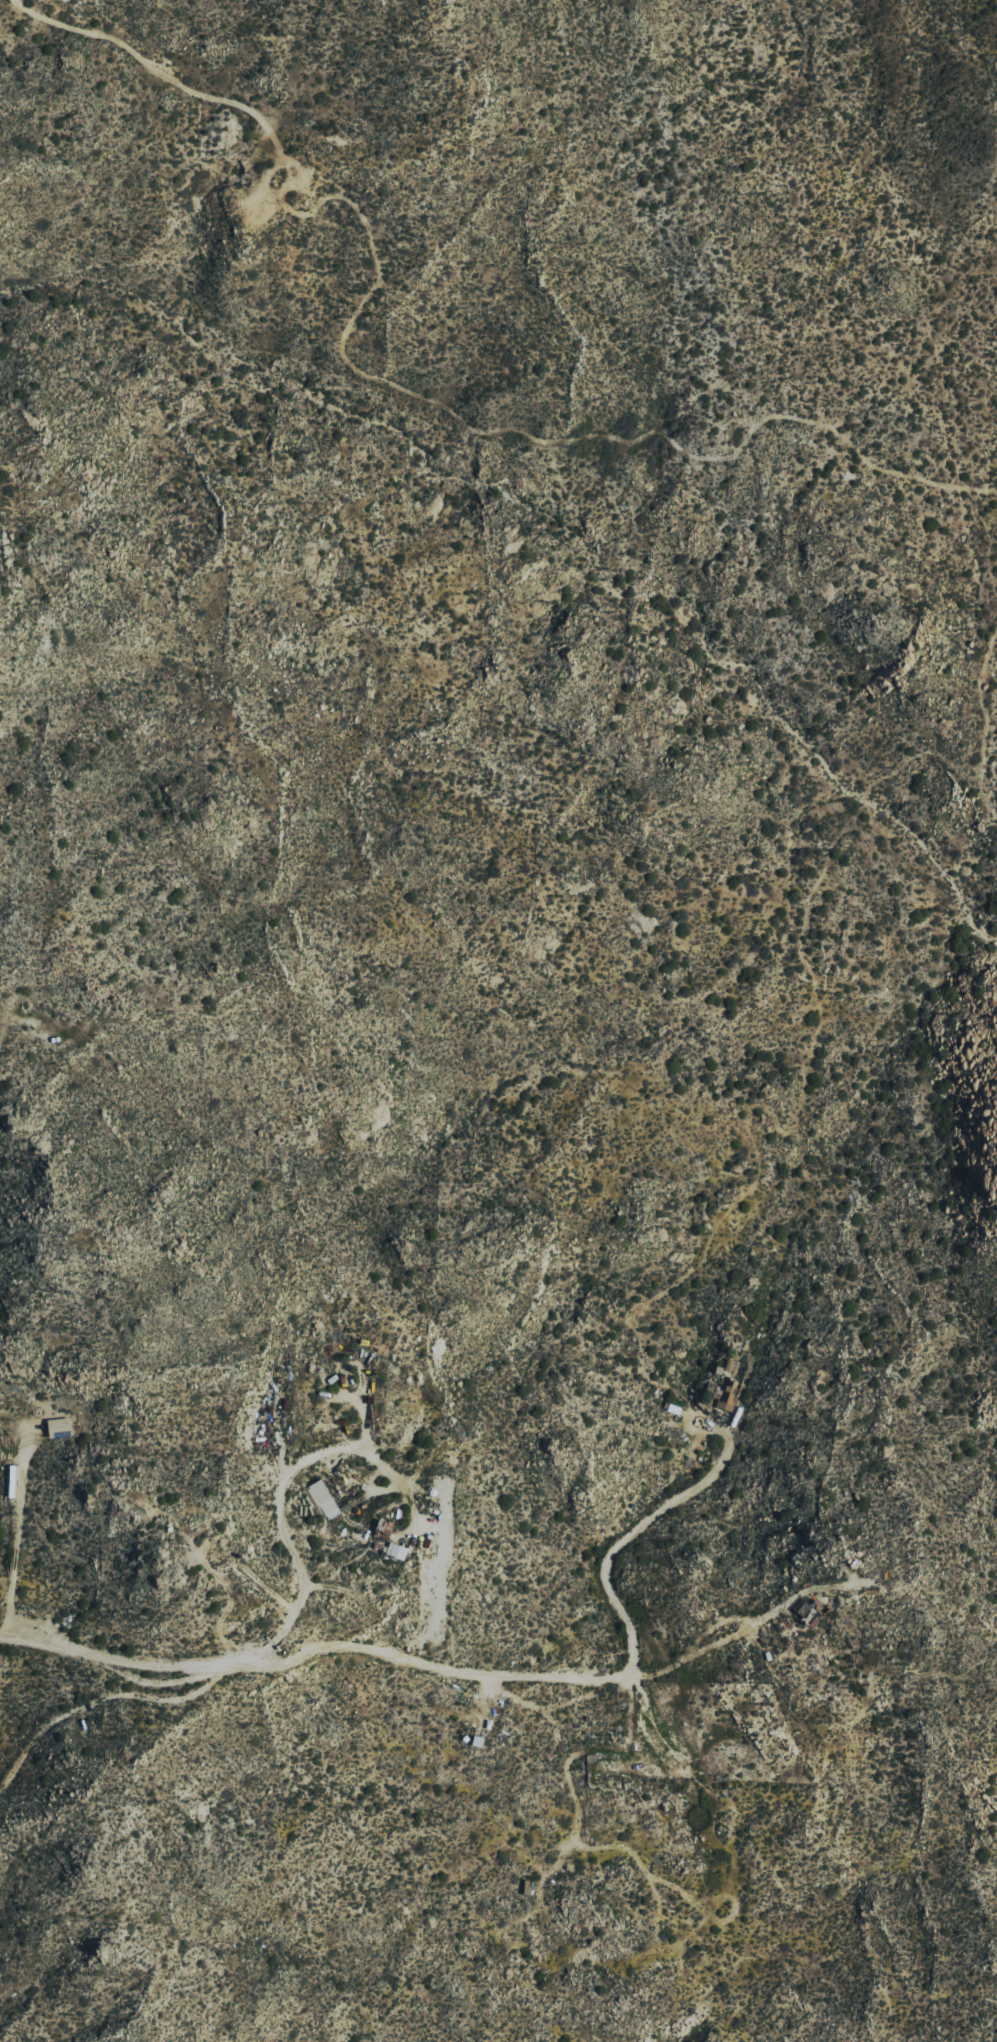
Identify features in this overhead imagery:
road: (156, 69)
road: (279, 198)
building: (325, 1499)

